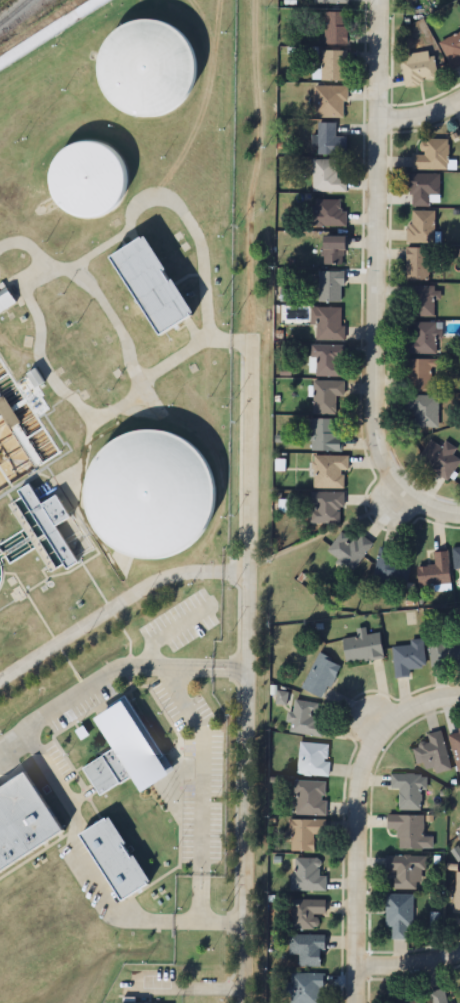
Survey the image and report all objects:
building: (424, 0)
building: (332, 1)
railway: (13, 11)
building: (336, 28)
building: (452, 50)
building: (152, 54)
silo: (152, 54)
building: (333, 65)
building: (419, 68)
building: (330, 102)
road: (420, 123)
building: (330, 141)
building: (432, 156)
building: (97, 167)
silo: (97, 167)
building: (327, 177)
building: (424, 190)
building: (326, 214)
building: (421, 227)
building: (332, 251)
building: (417, 265)
building: (160, 270)
road: (373, 284)
building: (330, 288)
building: (5, 300)
building: (421, 301)
building: (327, 324)
building: (423, 340)
building: (328, 361)
building: (419, 374)
building: (326, 397)
building: (423, 410)
building: (7, 413)
building: (324, 436)
building: (439, 459)
building: (330, 472)
wastewater plant: (110, 482)
building: (158, 484)
silo: (158, 484)
building: (326, 508)
road: (250, 519)
road: (379, 522)
building: (49, 525)
building: (349, 548)
building: (456, 557)
building: (391, 567)
building: (435, 572)
building: (362, 648)
building: (444, 651)
building: (407, 658)
building: (321, 676)
road: (357, 712)
building: (305, 719)
building: (129, 746)
building: (455, 746)
building: (432, 753)
building: (314, 759)
building: (409, 790)
road: (350, 795)
building: (311, 798)
building: (26, 810)
building: (409, 832)
building: (305, 834)
building: (459, 835)
building: (120, 848)
building: (406, 871)
building: (307, 875)
building: (457, 892)
building: (306, 914)
building: (398, 916)
building: (307, 950)
road: (406, 961)
road: (350, 982)
building: (302, 989)
building: (438, 996)
building: (141, 999)
building: (405, 1000)

